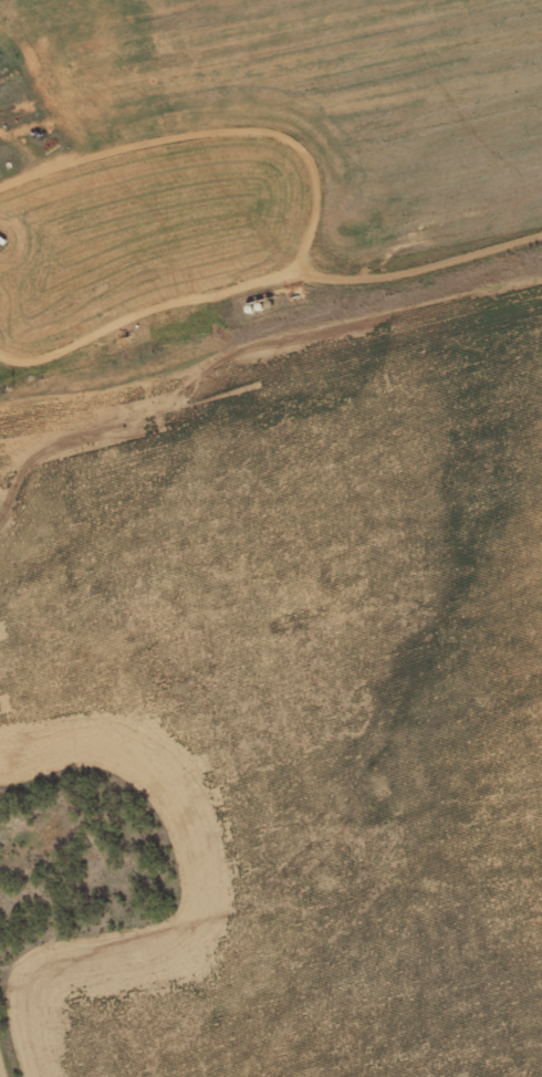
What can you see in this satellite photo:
road: (6, 1055)

